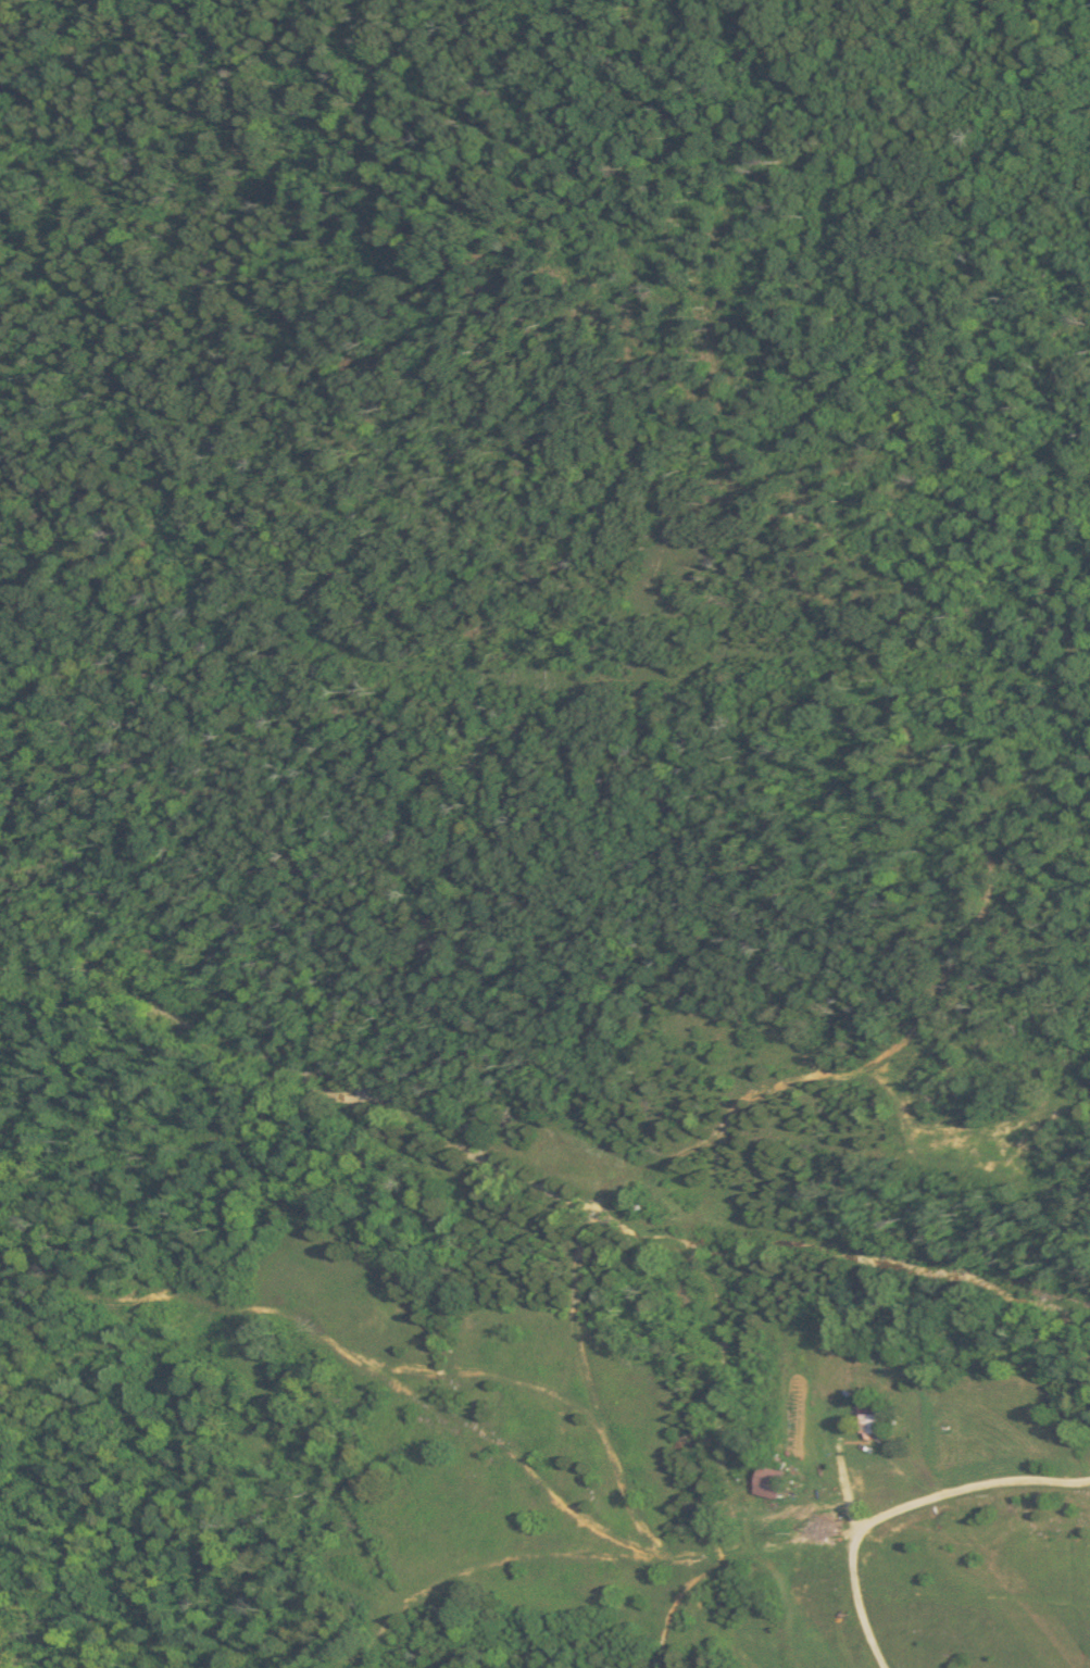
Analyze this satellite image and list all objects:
building: (864, 1425)
building: (764, 1482)
road: (905, 1516)

